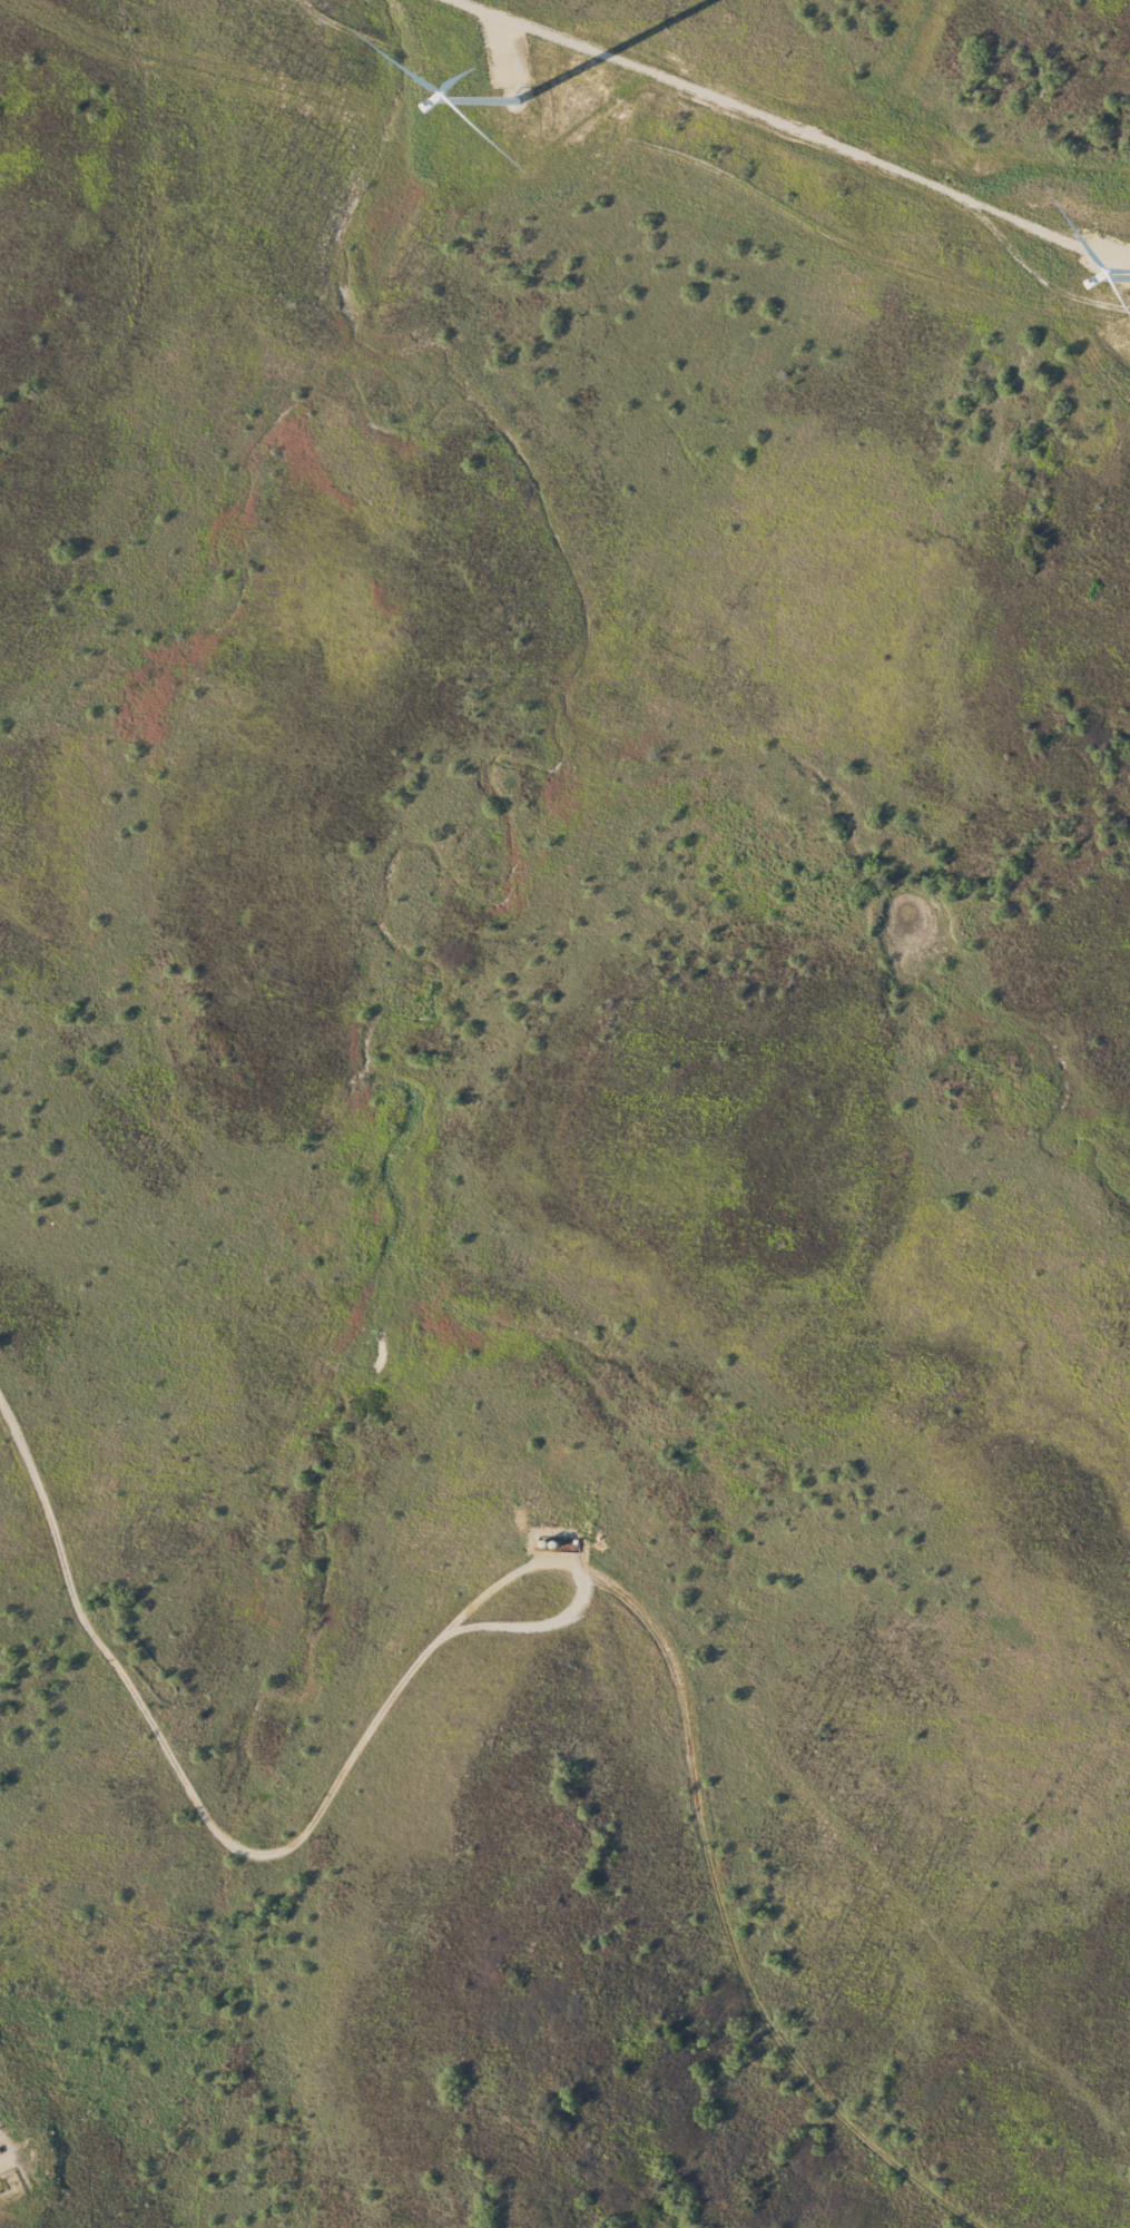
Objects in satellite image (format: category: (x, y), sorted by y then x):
wind turbine: (517, 100)
road: (800, 130)
road: (14, 1415)
road: (252, 1845)
road: (17, 2140)

